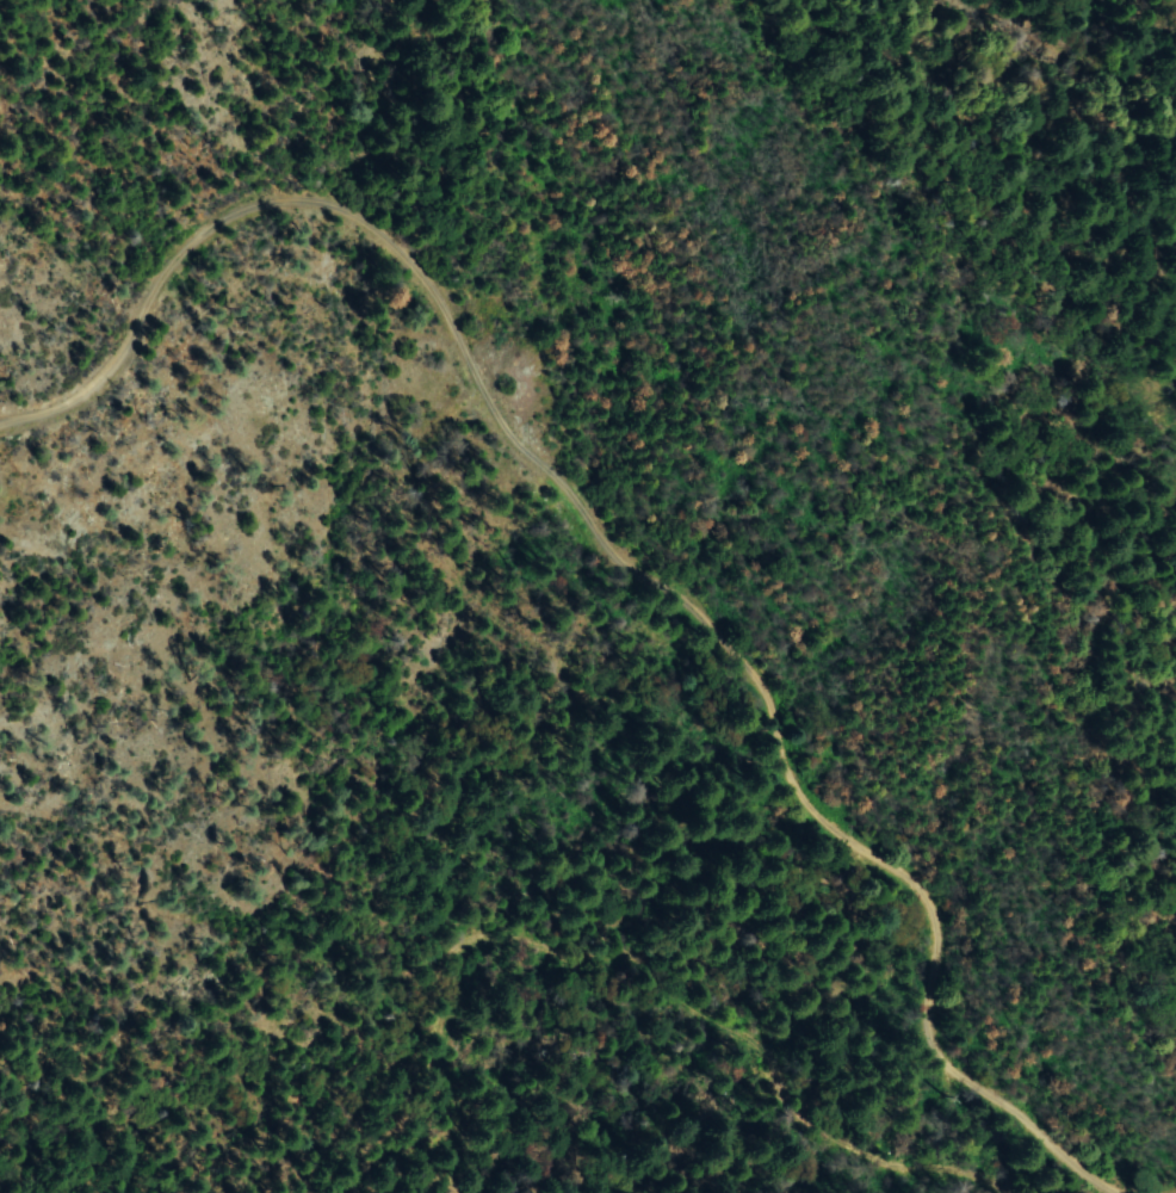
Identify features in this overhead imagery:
road: (567, 580)

